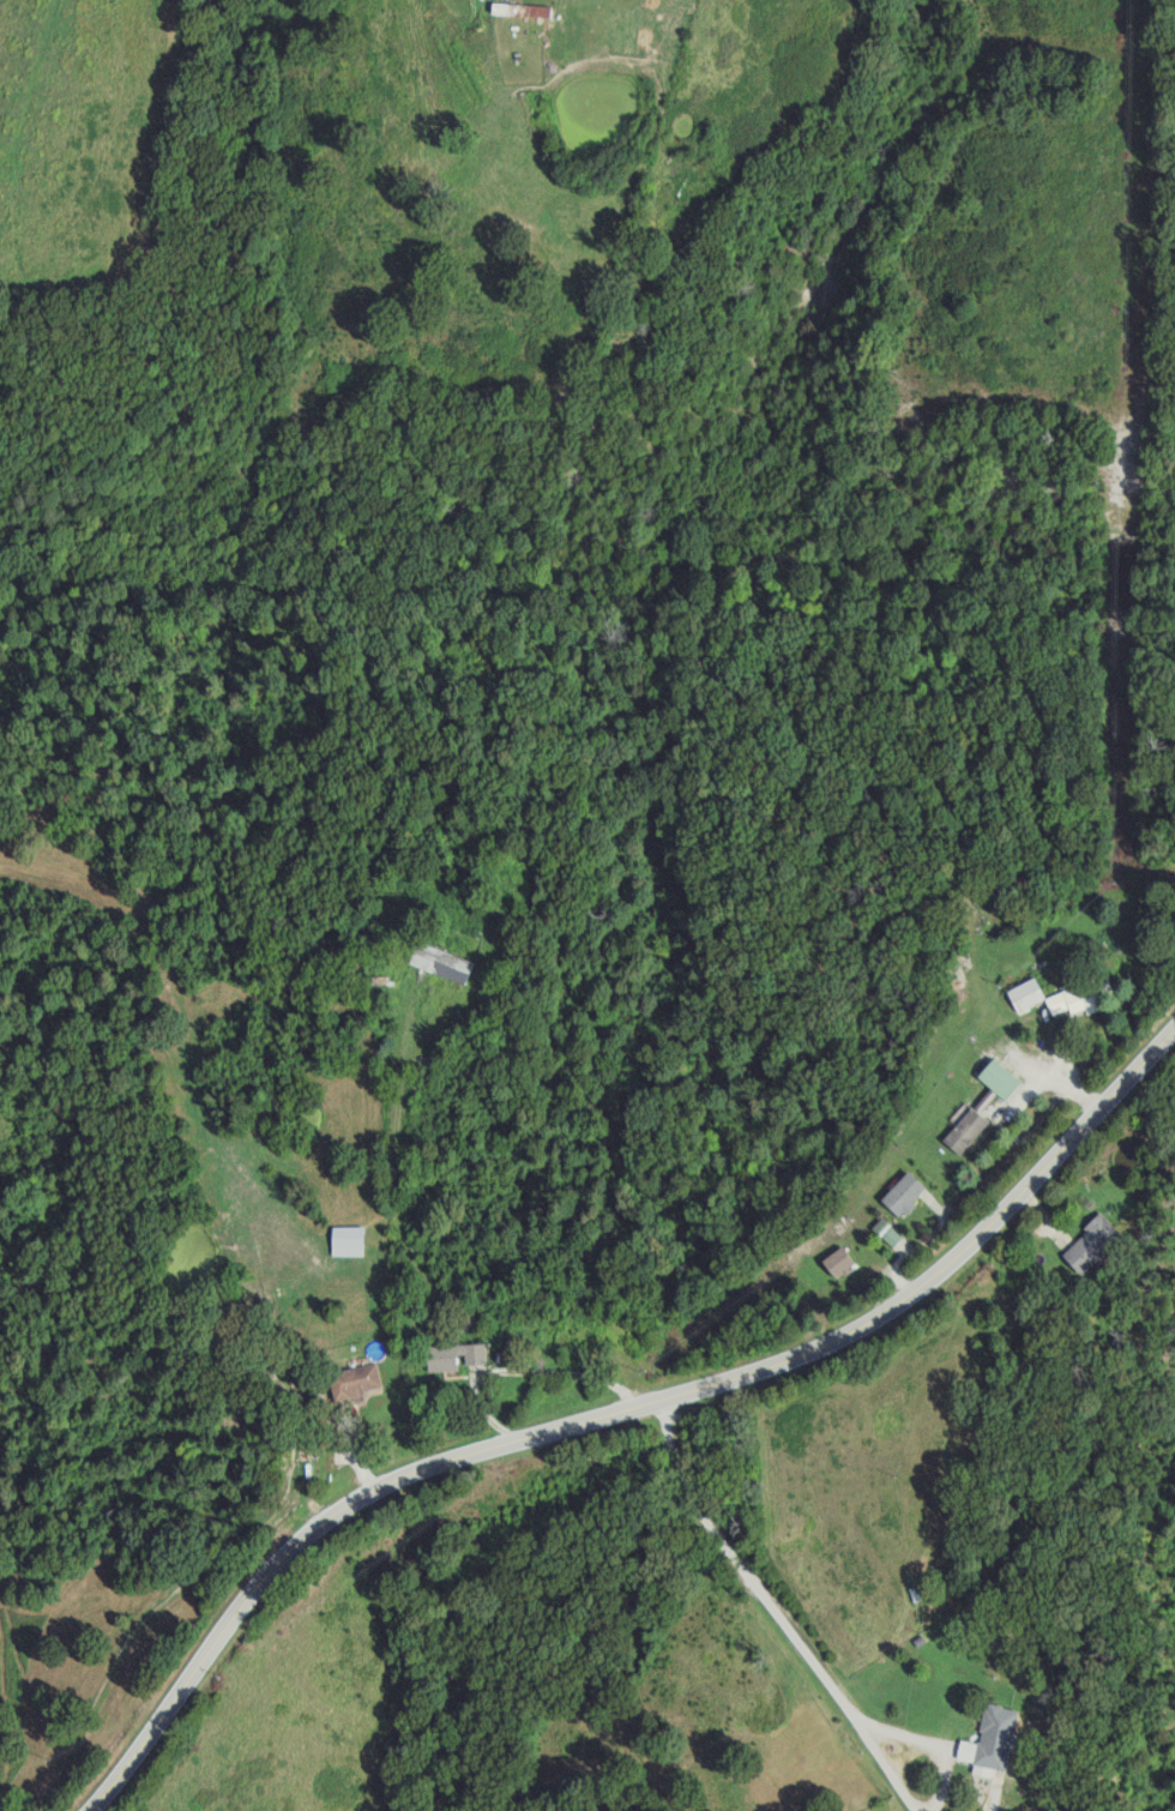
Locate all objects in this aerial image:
building: (445, 962)
building: (1028, 994)
building: (1085, 994)
road: (423, 1017)
road: (1057, 1061)
building: (1004, 1078)
building: (969, 1131)
building: (908, 1193)
road: (396, 1223)
building: (888, 1232)
building: (350, 1241)
building: (1093, 1244)
building: (842, 1261)
building: (457, 1356)
road: (526, 1366)
building: (360, 1383)
road: (611, 1407)
road: (773, 1610)
building: (995, 1741)
road: (990, 1789)

